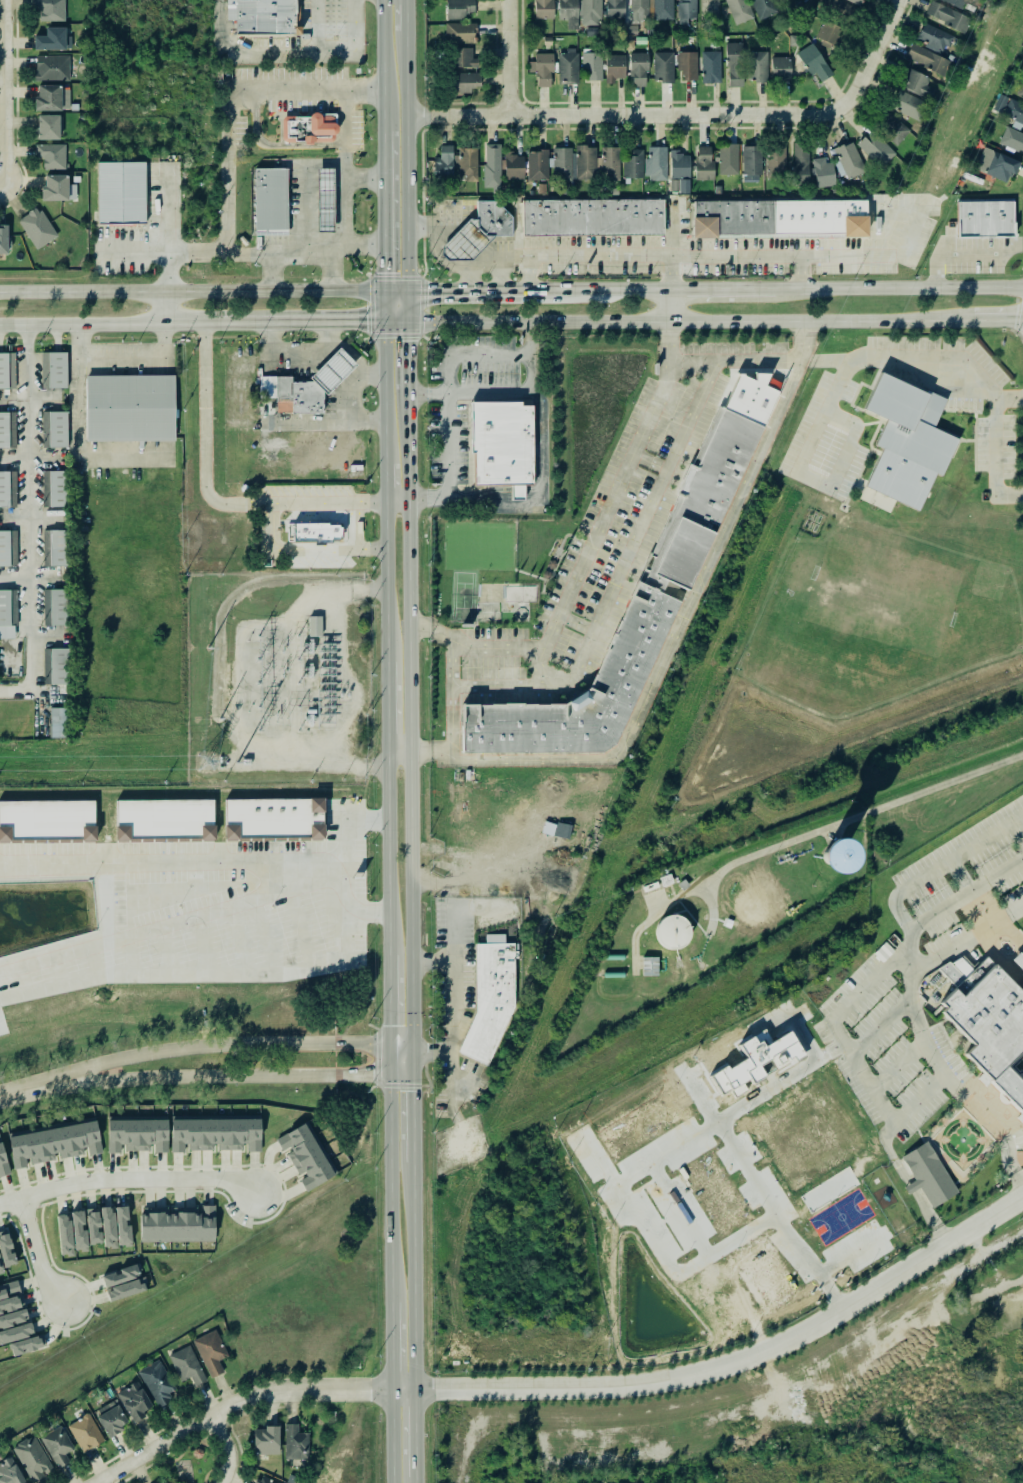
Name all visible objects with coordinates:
building: (857, 2)
building: (959, 4)
building: (763, 8)
building: (459, 9)
building: (543, 9)
building: (614, 9)
building: (663, 9)
building: (838, 9)
building: (50, 10)
building: (639, 10)
building: (687, 10)
building: (739, 10)
building: (591, 12)
building: (568, 13)
road: (404, 16)
building: (266, 17)
building: (947, 17)
building: (460, 33)
building: (830, 33)
building: (934, 38)
building: (52, 40)
road: (335, 50)
road: (247, 54)
road: (516, 57)
building: (463, 58)
road: (872, 58)
building: (927, 60)
building: (813, 62)
road: (378, 65)
building: (687, 65)
building: (734, 65)
building: (591, 66)
building: (708, 66)
building: (757, 66)
building: (568, 67)
building: (614, 67)
building: (663, 67)
building: (780, 67)
building: (52, 68)
building: (542, 69)
building: (638, 69)
road: (404, 74)
building: (465, 82)
road: (286, 87)
parking lot: (292, 88)
road: (361, 89)
building: (1021, 89)
road: (0, 93)
building: (912, 95)
building: (52, 98)
building: (1010, 110)
road: (620, 114)
building: (48, 127)
building: (891, 128)
building: (306, 129)
parking lot: (357, 130)
road: (345, 134)
building: (1011, 139)
road: (273, 147)
building: (875, 148)
building: (51, 157)
building: (726, 158)
building: (749, 159)
building: (849, 160)
building: (774, 161)
building: (443, 163)
building: (573, 163)
building: (703, 163)
building: (800, 163)
building: (467, 164)
building: (608, 164)
building: (632, 164)
building: (656, 164)
building: (537, 165)
building: (995, 165)
building: (513, 166)
building: (492, 167)
road: (227, 171)
building: (679, 172)
building: (823, 173)
road: (361, 179)
building: (53, 186)
road: (0, 187)
building: (563, 188)
building: (611, 191)
building: (116, 192)
parking lot: (162, 196)
building: (267, 199)
building: (320, 200)
road: (403, 203)
road: (378, 211)
road: (305, 212)
road: (344, 212)
road: (169, 213)
building: (591, 217)
building: (731, 217)
building: (489, 218)
building: (981, 219)
building: (39, 229)
building: (3, 238)
gas station: (460, 240)
road: (354, 246)
road: (134, 251)
road: (220, 255)
road: (302, 255)
road: (654, 257)
road: (332, 269)
road: (801, 272)
road: (168, 273)
road: (272, 273)
road: (667, 273)
road: (526, 274)
road: (468, 279)
road: (503, 280)
road: (898, 287)
road: (721, 289)
road: (626, 290)
road: (135, 291)
road: (325, 292)
traffic signals: (379, 292)
road: (391, 292)
road: (493, 292)
traffic signals: (403, 293)
road: (378, 303)
road: (668, 303)
road: (403, 304)
road: (167, 306)
road: (344, 315)
traffic signals: (378, 315)
traffic signals: (403, 315)
road: (670, 316)
road: (237, 317)
road: (993, 318)
road: (78, 320)
road: (161, 320)
road: (804, 338)
parking lot: (903, 343)
parking lot: (953, 345)
parking lot: (719, 348)
parking lot: (775, 349)
road: (668, 350)
road: (916, 354)
road: (402, 355)
road: (121, 358)
road: (863, 358)
road: (735, 359)
road: (336, 360)
road: (827, 361)
parking lot: (987, 365)
building: (55, 369)
building: (2, 370)
gas station: (327, 370)
parking lot: (742, 373)
parking lot: (772, 374)
road: (987, 385)
road: (450, 386)
road: (378, 389)
parking lot: (851, 393)
road: (470, 396)
building: (302, 398)
parking lot: (962, 406)
building: (125, 407)
road: (823, 418)
parking lot: (673, 419)
road: (844, 420)
road: (271, 422)
parking lot: (806, 422)
building: (909, 424)
building: (55, 428)
building: (2, 429)
road: (206, 441)
building: (498, 445)
parking lot: (981, 445)
parking lot: (1009, 447)
parking lot: (828, 450)
parking lot: (618, 455)
road: (995, 456)
road: (843, 461)
parking lot: (652, 464)
parking lot: (851, 474)
road: (813, 481)
road: (379, 483)
building: (2, 487)
building: (54, 487)
road: (538, 487)
building: (313, 488)
road: (368, 503)
road: (315, 504)
road: (648, 511)
parking lot: (629, 514)
building: (314, 517)
road: (31, 522)
road: (601, 524)
road: (357, 526)
building: (317, 529)
parking lot: (646, 532)
building: (54, 546)
building: (3, 547)
road: (297, 547)
park: (479, 547)
road: (368, 549)
road: (16, 576)
road: (380, 581)
parking lot: (622, 583)
parking lot: (557, 586)
parking lot: (594, 590)
park: (464, 598)
building: (55, 606)
building: (3, 607)
building: (631, 614)
parking lot: (577, 625)
building: (315, 626)
parking lot: (601, 627)
road: (675, 633)
road: (434, 634)
parking lot: (499, 635)
road: (493, 646)
parking lot: (565, 648)
road: (452, 664)
building: (55, 665)
road: (534, 665)
parking lot: (491, 669)
road: (564, 677)
road: (345, 679)
power substation: (277, 682)
road: (499, 685)
road: (380, 711)
building: (55, 722)
road: (452, 723)
road: (405, 728)
road: (429, 751)
road: (393, 762)
power tower: (204, 764)
building: (274, 819)
building: (47, 820)
building: (164, 820)
road: (824, 831)
building: (562, 833)
road: (838, 833)
road: (421, 854)
building: (792, 855)
parking lot: (961, 856)
road: (265, 859)
road: (382, 859)
road: (940, 866)
road: (960, 877)
parking lot: (1009, 881)
road: (191, 883)
parking lot: (1013, 895)
road: (713, 897)
road: (976, 904)
road: (985, 904)
road: (994, 905)
building: (750, 907)
water tower: (749, 911)
road: (973, 911)
road: (1001, 911)
road: (982, 913)
road: (963, 916)
road: (985, 918)
road: (999, 920)
road: (970, 921)
parking lot: (941, 925)
road: (1013, 928)
road: (973, 929)
building: (672, 932)
water tower: (668, 935)
road: (997, 936)
parking lot: (942, 939)
road: (910, 941)
road: (965, 941)
road: (452, 942)
road: (987, 942)
road: (981, 943)
fountain: (1006, 946)
fountain: (1006, 947)
road: (635, 952)
road: (1011, 954)
road: (979, 958)
building: (1018, 961)
building: (649, 966)
road: (1001, 968)
building: (953, 971)
road: (1020, 982)
road: (889, 990)
road: (383, 1000)
building: (488, 1000)
road: (451, 1006)
road: (894, 1013)
building: (986, 1017)
parking lot: (862, 1019)
road: (858, 1020)
road: (942, 1020)
road: (835, 1024)
road: (882, 1027)
road: (878, 1028)
road: (950, 1035)
road: (899, 1036)
road: (961, 1039)
road: (953, 1044)
traffic signals: (384, 1045)
road: (960, 1046)
road: (213, 1049)
road: (909, 1053)
parking lot: (947, 1054)
road: (1019, 1055)
road: (1014, 1057)
road: (877, 1059)
road: (959, 1060)
road: (384, 1061)
traffic signals: (411, 1061)
building: (755, 1062)
road: (898, 1064)
road: (1005, 1065)
road: (898, 1066)
parking lot: (895, 1068)
road: (397, 1069)
road: (920, 1071)
road: (1014, 1074)
traffic signals: (384, 1077)
road: (199, 1078)
road: (1021, 1078)
road: (933, 1079)
building: (1008, 1088)
road: (1009, 1091)
road: (8, 1092)
road: (959, 1093)
road: (897, 1094)
road: (953, 1094)
parking lot: (917, 1104)
road: (1004, 1107)
road: (991, 1110)
road: (411, 1111)
road: (952, 1111)
road: (907, 1112)
road: (1017, 1118)
road: (980, 1120)
road: (920, 1133)
building: (135, 1134)
building: (215, 1134)
road: (920, 1135)
road: (923, 1139)
fountain: (961, 1139)
building: (52, 1143)
road: (988, 1147)
building: (303, 1155)
road: (1015, 1157)
road: (942, 1158)
building: (3, 1165)
building: (928, 1173)
road: (128, 1179)
road: (955, 1180)
road: (915, 1181)
road: (386, 1191)
road: (916, 1194)
building: (93, 1226)
building: (108, 1226)
building: (123, 1226)
building: (176, 1226)
building: (79, 1231)
building: (65, 1234)
road: (973, 1240)
building: (6, 1249)
road: (36, 1252)
building: (0, 1269)
building: (121, 1274)
road: (413, 1274)
building: (125, 1289)
building: (10, 1303)
building: (13, 1318)
building: (14, 1333)
road: (388, 1346)
building: (210, 1352)
road: (727, 1364)
building: (186, 1365)
building: (157, 1383)
building: (132, 1401)
road: (238, 1409)
building: (110, 1420)
building: (84, 1432)
road: (414, 1432)
road: (389, 1435)
road: (203, 1438)
building: (265, 1441)
building: (294, 1442)
building: (55, 1445)
road: (224, 1450)
building: (195, 1453)
building: (33, 1458)
road: (175, 1458)
park: (190, 1460)
road: (215, 1460)
building: (9, 1472)
building: (267, 1480)
road: (414, 1480)
building: (165, 1482)
building: (254, 1482)

